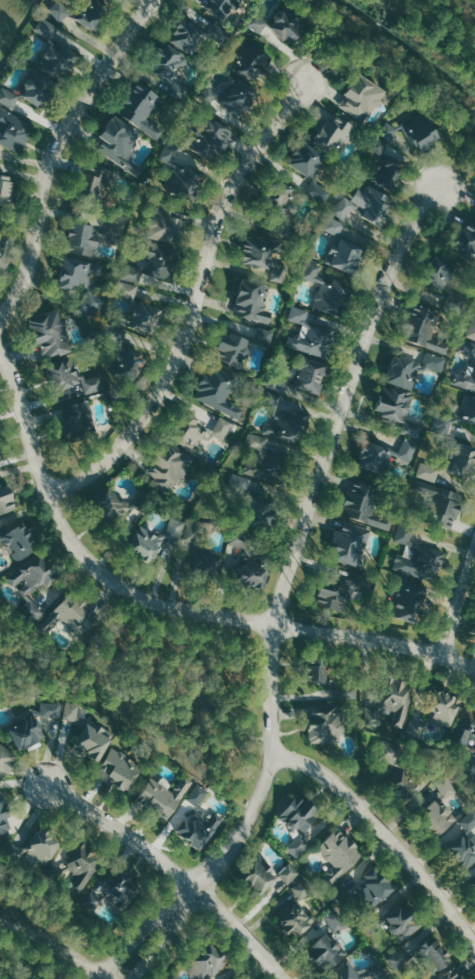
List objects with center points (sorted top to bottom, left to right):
building: (107, 1)
building: (111, 1)
building: (219, 6)
building: (81, 12)
building: (279, 25)
park: (429, 35)
building: (192, 36)
building: (54, 51)
building: (248, 60)
building: (166, 70)
building: (32, 90)
building: (228, 96)
building: (360, 97)
building: (139, 108)
building: (414, 129)
building: (13, 130)
building: (332, 135)
building: (207, 138)
building: (114, 139)
road: (53, 153)
road: (456, 161)
building: (384, 167)
building: (312, 169)
building: (181, 172)
building: (93, 184)
building: (6, 188)
building: (363, 201)
building: (474, 205)
building: (282, 206)
building: (165, 223)
building: (91, 236)
building: (465, 240)
building: (341, 246)
building: (5, 248)
building: (263, 255)
building: (150, 261)
building: (445, 280)
building: (81, 281)
building: (326, 291)
building: (251, 300)
road: (193, 305)
building: (136, 311)
road: (1, 321)
building: (423, 326)
building: (470, 329)
building: (47, 331)
building: (309, 334)
building: (239, 344)
building: (121, 354)
building: (473, 366)
building: (412, 367)
building: (297, 375)
building: (73, 377)
building: (216, 388)
building: (467, 405)
building: (397, 409)
building: (283, 419)
building: (77, 422)
building: (198, 432)
building: (382, 456)
building: (0, 457)
building: (265, 461)
building: (451, 462)
building: (168, 465)
building: (6, 500)
building: (256, 503)
building: (439, 503)
building: (363, 504)
building: (113, 505)
building: (19, 538)
building: (0, 539)
building: (150, 540)
building: (350, 542)
road: (300, 548)
building: (416, 552)
building: (202, 559)
building: (249, 563)
building: (36, 582)
building: (341, 588)
building: (411, 601)
road: (166, 602)
road: (459, 603)
building: (70, 614)
building: (474, 629)
building: (330, 672)
park: (190, 689)
road: (131, 691)
building: (392, 697)
building: (435, 712)
building: (323, 722)
building: (32, 724)
building: (85, 731)
building: (453, 745)
building: (392, 753)
building: (4, 758)
building: (117, 769)
building: (408, 780)
building: (160, 796)
building: (438, 809)
building: (197, 819)
building: (5, 820)
building: (296, 821)
road: (384, 832)
building: (461, 842)
building: (37, 845)
building: (338, 853)
building: (79, 863)
road: (176, 871)
building: (265, 875)
building: (473, 885)
building: (116, 889)
building: (361, 893)
building: (296, 907)
building: (397, 920)
road: (141, 935)
building: (327, 943)
road: (52, 945)
road: (163, 947)
building: (422, 957)
building: (206, 961)
building: (375, 967)
building: (451, 974)
building: (241, 977)

